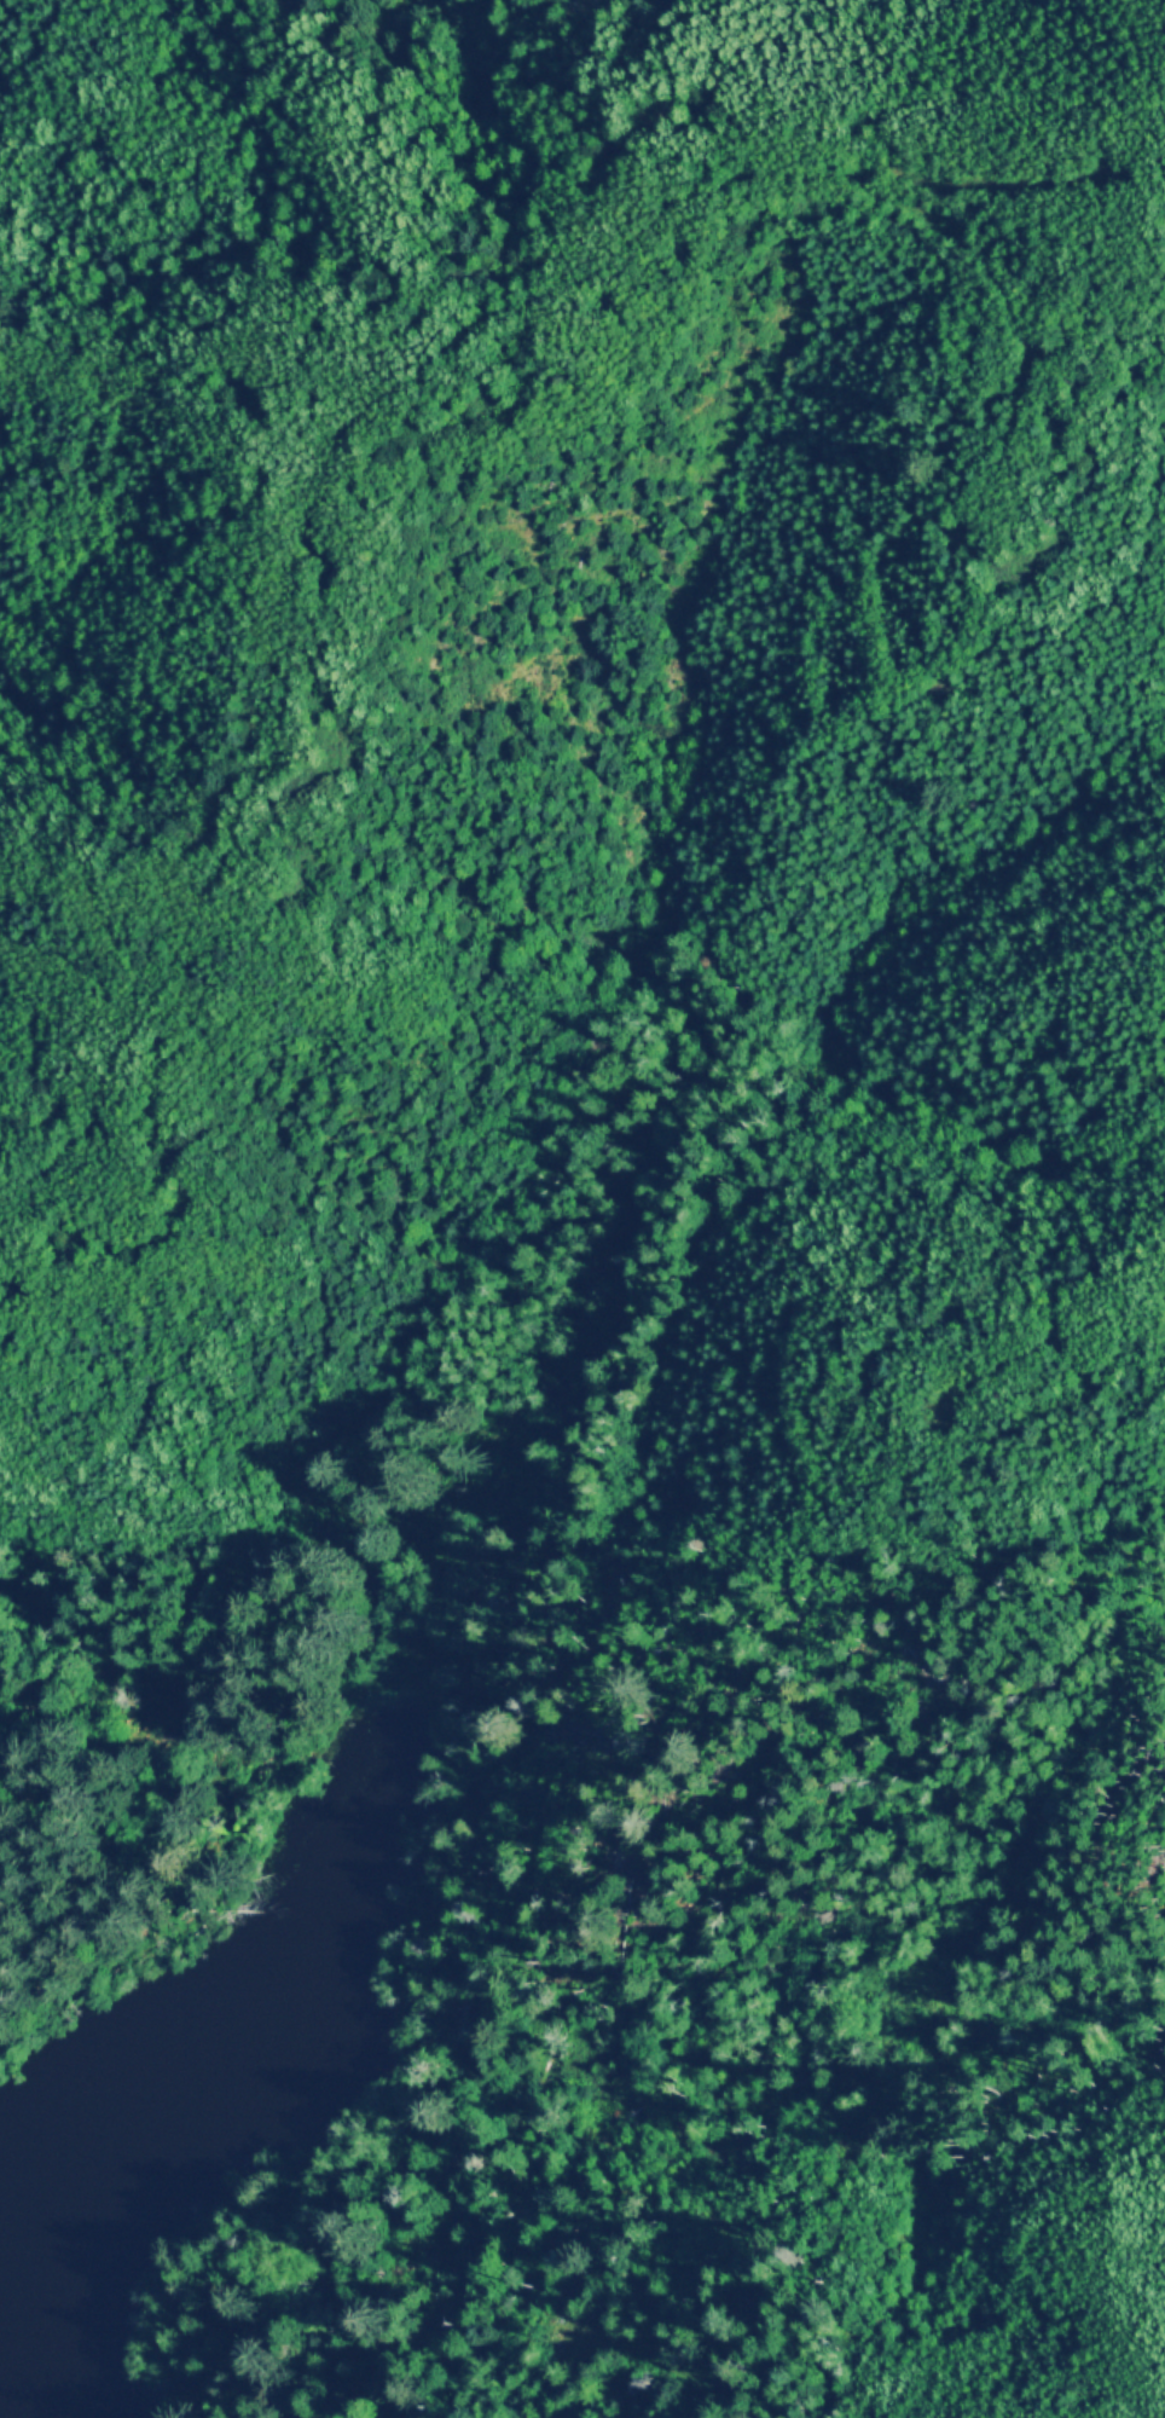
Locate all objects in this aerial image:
road: (506, 1613)

